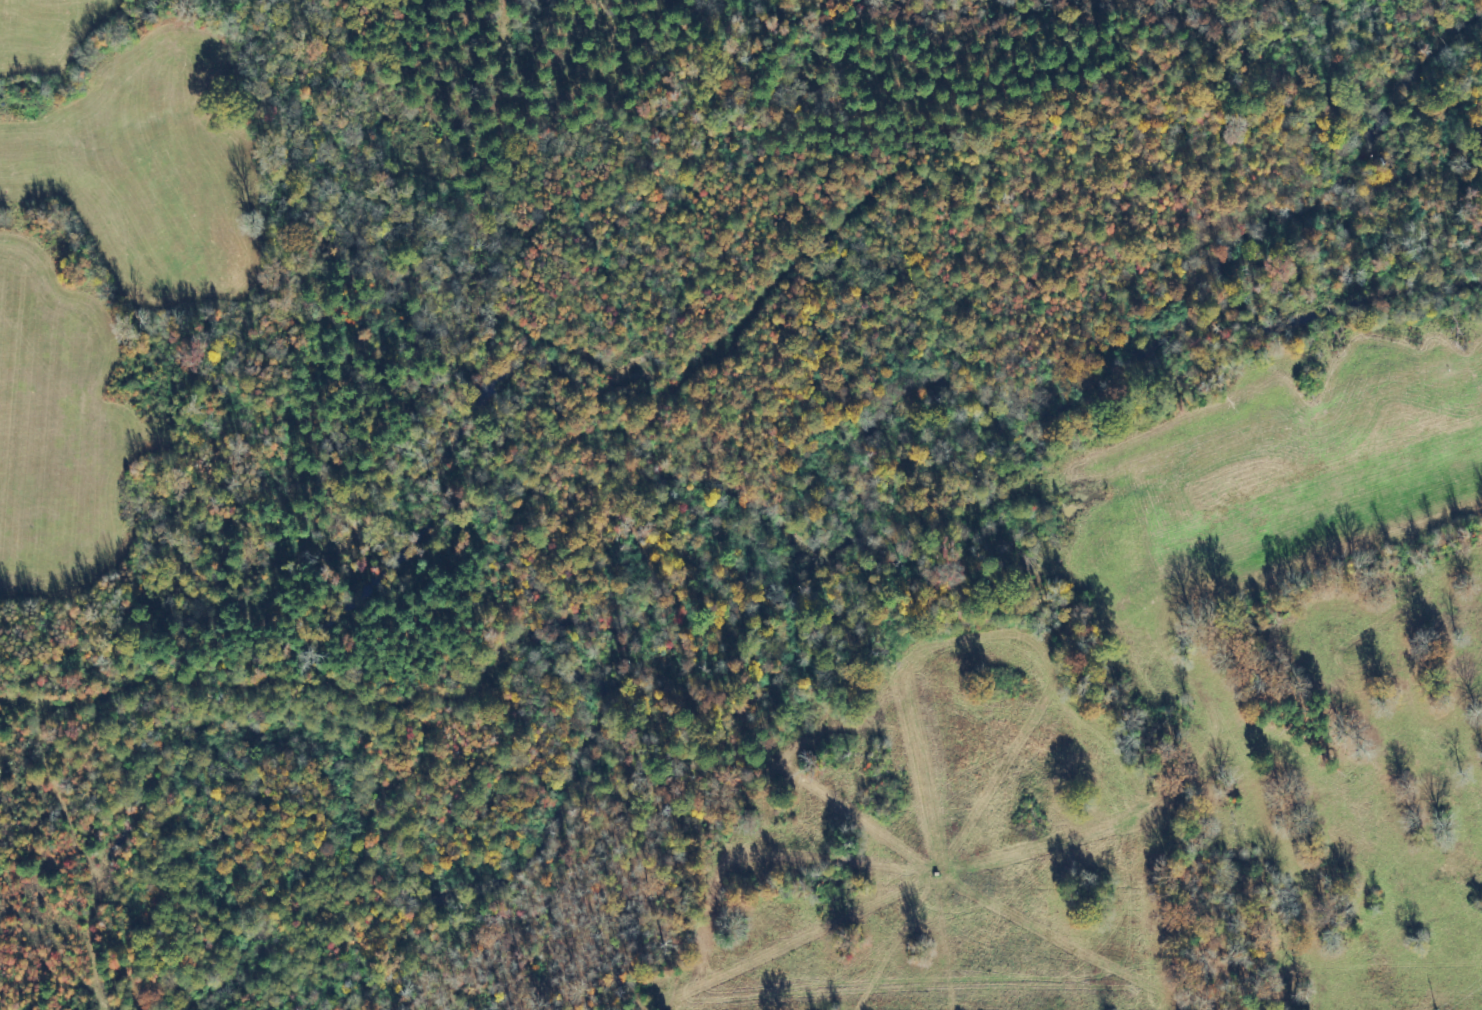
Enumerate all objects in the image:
road: (84, 797)

